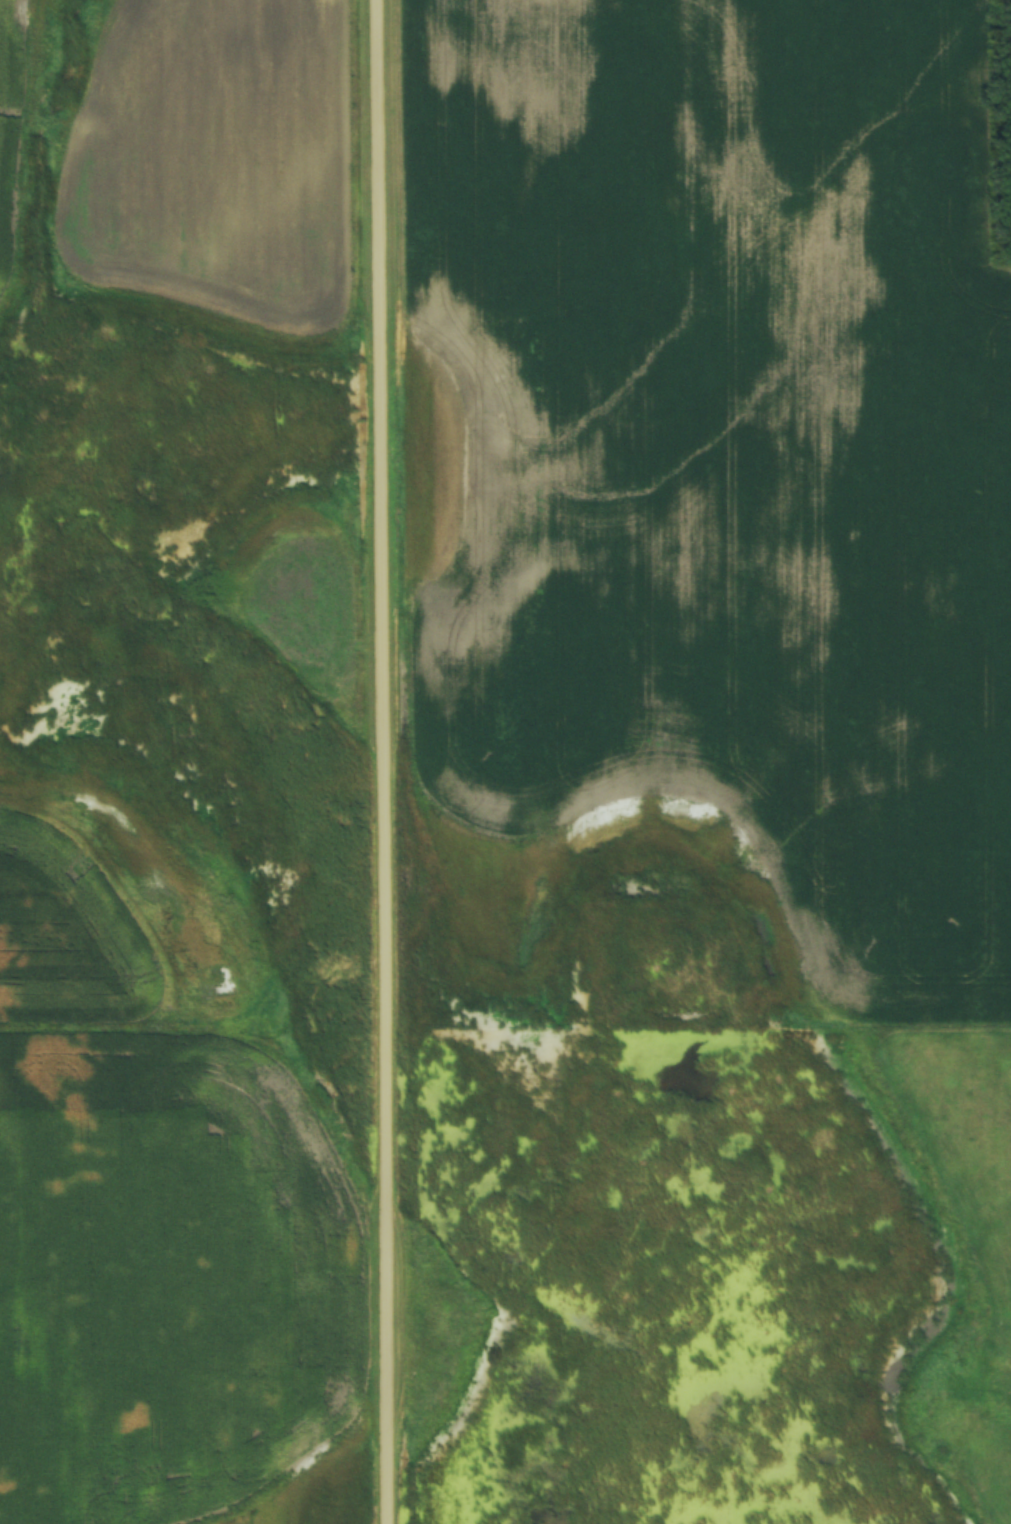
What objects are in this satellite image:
road: (385, 762)

